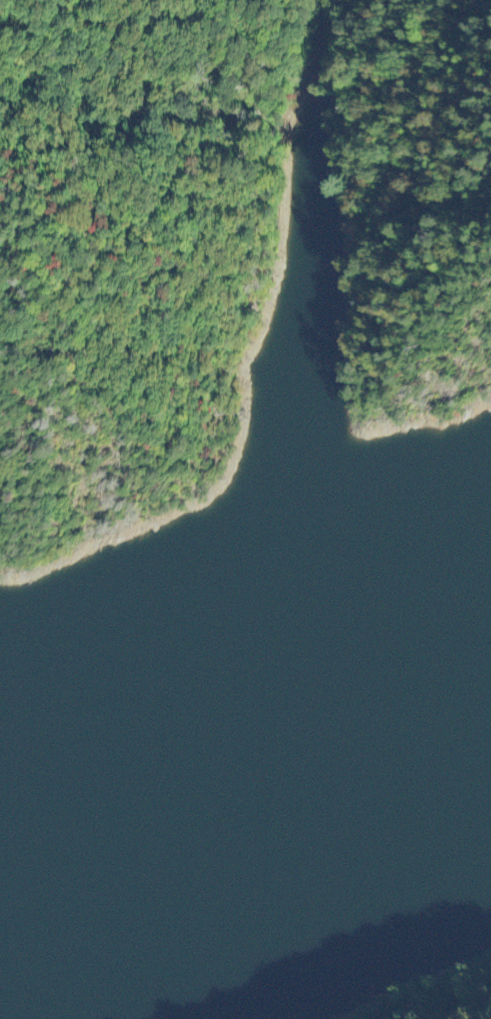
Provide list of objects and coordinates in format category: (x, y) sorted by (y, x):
river: (421, 709)
river: (173, 785)

